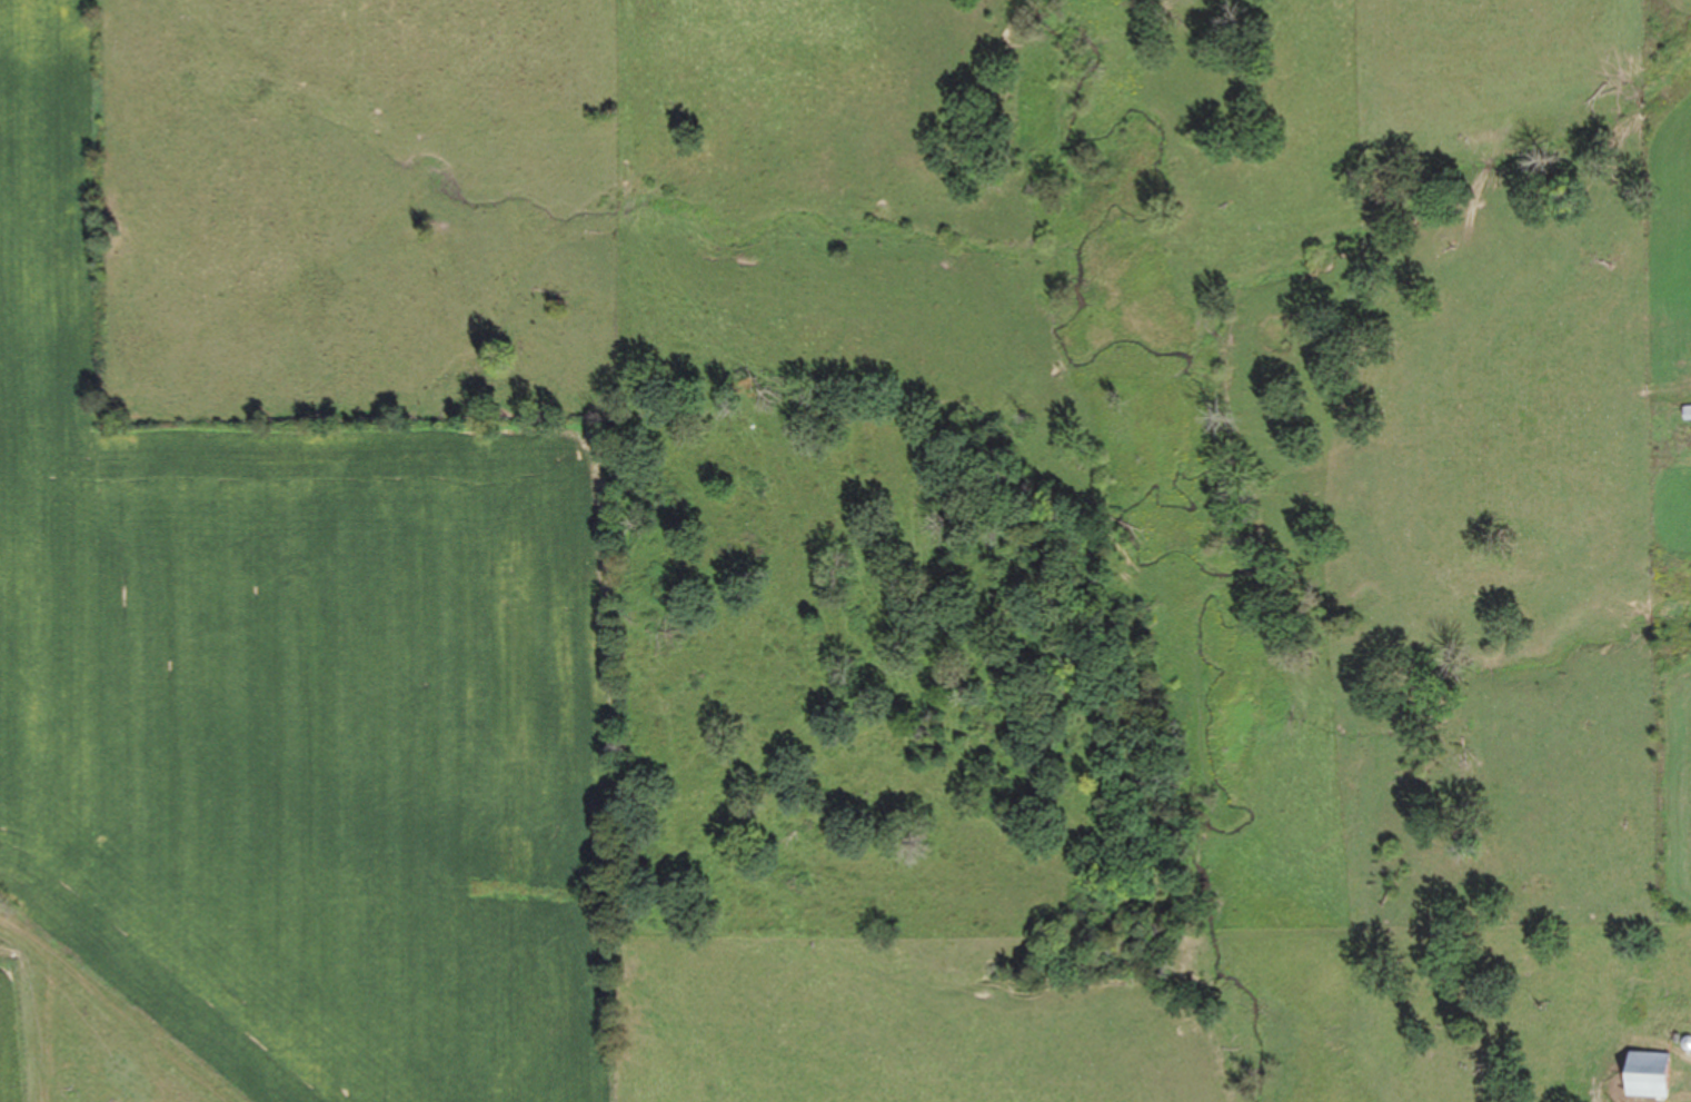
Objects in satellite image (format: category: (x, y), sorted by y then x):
building: (1685, 413)
road: (99, 1024)
building: (1647, 1076)

